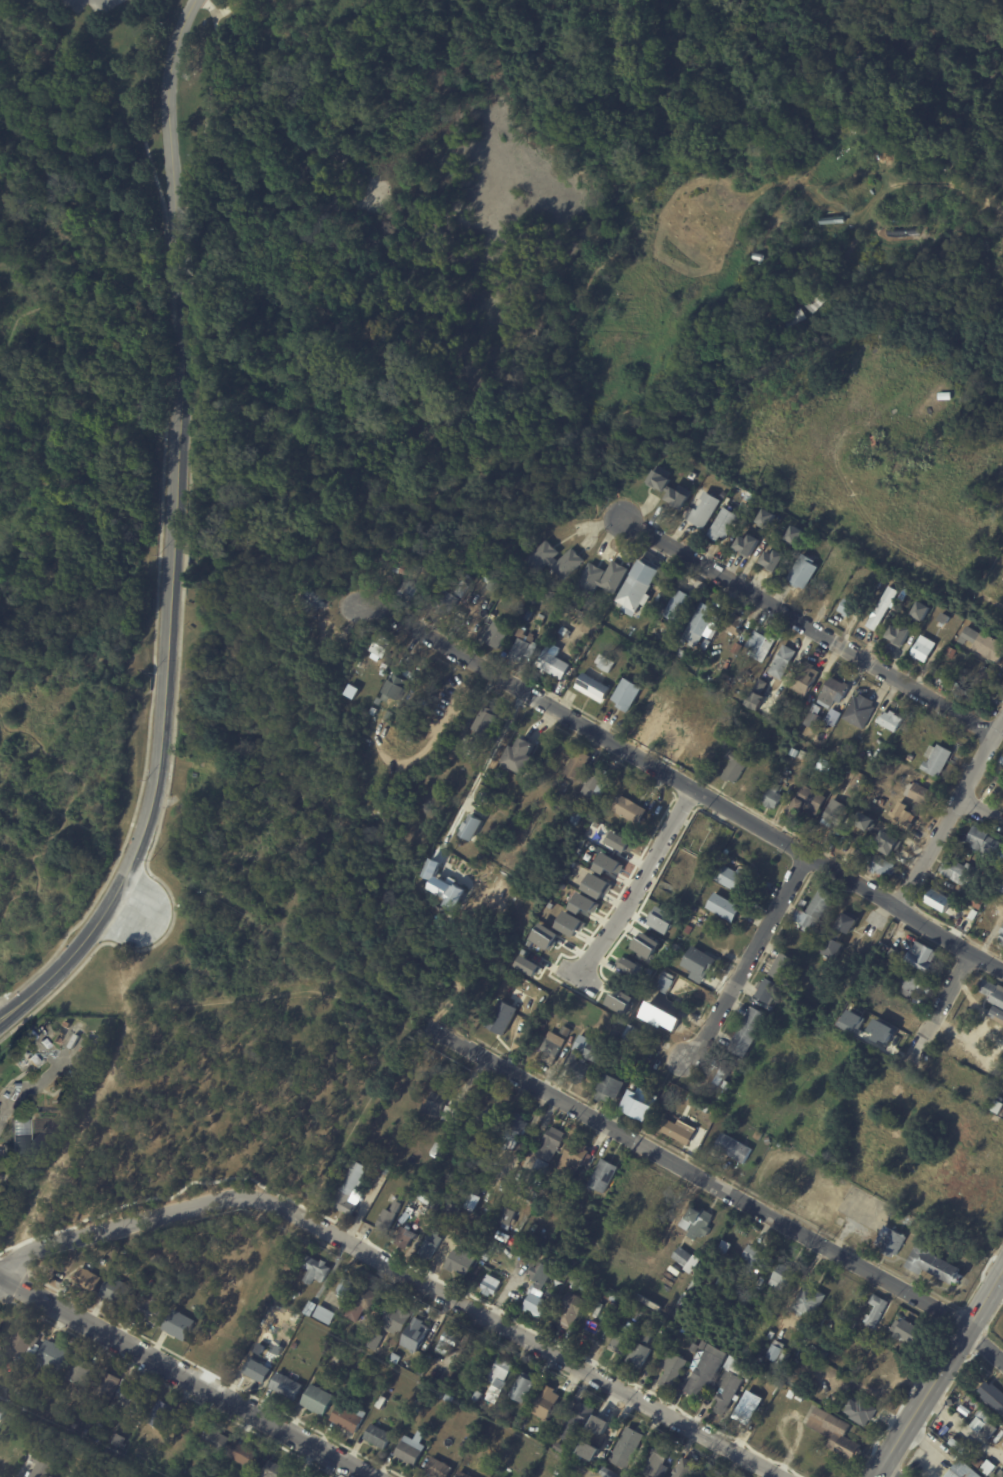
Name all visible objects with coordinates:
road: (207, 7)
road: (226, 8)
road: (314, 73)
road: (205, 112)
road: (144, 113)
road: (923, 186)
building: (758, 256)
building: (814, 301)
building: (746, 317)
building: (792, 317)
building: (688, 346)
building: (678, 383)
park: (367, 449)
road: (178, 453)
building: (667, 487)
building: (752, 497)
building: (704, 510)
building: (766, 518)
building: (722, 523)
building: (795, 534)
building: (776, 535)
building: (747, 545)
building: (433, 554)
building: (554, 559)
building: (772, 559)
building: (405, 567)
building: (802, 571)
building: (371, 572)
building: (615, 575)
building: (447, 581)
building: (495, 584)
building: (638, 587)
building: (403, 588)
building: (464, 588)
building: (310, 597)
building: (446, 603)
building: (678, 605)
building: (846, 606)
building: (883, 607)
building: (920, 611)
building: (527, 614)
building: (538, 619)
building: (456, 622)
building: (734, 623)
building: (701, 625)
road: (807, 626)
building: (565, 631)
building: (497, 634)
building: (899, 634)
building: (681, 641)
building: (760, 642)
building: (983, 643)
building: (522, 646)
building: (378, 647)
building: (736, 648)
building: (921, 651)
building: (950, 651)
building: (553, 661)
building: (782, 661)
building: (604, 662)
building: (983, 677)
building: (806, 680)
building: (759, 685)
building: (555, 687)
building: (394, 688)
building: (959, 690)
building: (832, 692)
building: (597, 694)
building: (626, 694)
building: (859, 710)
building: (372, 711)
building: (389, 716)
building: (648, 716)
building: (813, 717)
building: (832, 717)
building: (890, 721)
building: (481, 724)
building: (675, 734)
road: (433, 740)
building: (469, 747)
road: (492, 749)
building: (839, 750)
building: (795, 752)
building: (518, 757)
building: (911, 757)
building: (935, 759)
road: (981, 759)
building: (577, 765)
building: (824, 765)
building: (734, 767)
building: (778, 778)
building: (862, 778)
building: (901, 778)
road: (684, 782)
building: (596, 784)
building: (566, 786)
building: (918, 792)
building: (773, 796)
building: (806, 801)
building: (882, 802)
building: (629, 809)
road: (982, 809)
building: (577, 810)
building: (837, 814)
building: (903, 816)
building: (863, 820)
building: (470, 827)
building: (982, 839)
building: (619, 841)
building: (887, 842)
building: (863, 852)
road: (929, 853)
building: (608, 864)
building: (881, 865)
building: (955, 871)
building: (731, 878)
road: (638, 883)
building: (597, 885)
building: (1000, 885)
building: (938, 900)
building: (975, 900)
building: (584, 903)
building: (724, 907)
building: (815, 908)
road: (126, 909)
building: (660, 919)
building: (832, 921)
building: (571, 923)
building: (689, 930)
building: (545, 936)
building: (839, 936)
building: (1001, 936)
building: (1002, 943)
building: (647, 945)
building: (676, 947)
building: (885, 948)
road: (70, 957)
building: (921, 957)
road: (749, 958)
building: (697, 961)
building: (530, 966)
building: (633, 967)
building: (783, 967)
road: (577, 974)
building: (665, 982)
building: (907, 983)
building: (766, 990)
building: (993, 991)
building: (621, 1002)
road: (941, 1004)
road: (9, 1006)
building: (996, 1013)
road: (11, 1015)
building: (658, 1015)
building: (500, 1017)
building: (567, 1030)
building: (747, 1032)
building: (613, 1035)
building: (635, 1035)
road: (46, 1048)
building: (553, 1048)
building: (590, 1049)
building: (616, 1056)
building: (32, 1060)
building: (624, 1060)
building: (578, 1072)
building: (718, 1075)
road: (39, 1081)
building: (14, 1085)
building: (608, 1088)
building: (695, 1091)
building: (434, 1103)
building: (639, 1104)
building: (996, 1106)
building: (450, 1113)
building: (30, 1114)
building: (489, 1119)
park: (874, 1121)
building: (676, 1130)
building: (753, 1132)
building: (514, 1133)
building: (18, 1137)
building: (768, 1140)
building: (778, 1143)
building: (549, 1146)
building: (733, 1148)
building: (436, 1149)
building: (573, 1159)
building: (541, 1165)
building: (410, 1166)
building: (601, 1177)
road: (699, 1177)
building: (482, 1178)
parking lot: (2, 1189)
building: (348, 1189)
building: (425, 1198)
building: (473, 1201)
building: (449, 1213)
building: (389, 1217)
building: (507, 1217)
building: (470, 1222)
building: (699, 1223)
building: (406, 1237)
building: (890, 1241)
building: (430, 1244)
building: (549, 1248)
building: (485, 1257)
building: (682, 1257)
building: (105, 1261)
building: (755, 1261)
building: (460, 1262)
building: (930, 1262)
building: (557, 1266)
building: (314, 1270)
road: (403, 1271)
building: (142, 1274)
building: (783, 1274)
park: (224, 1275)
road: (0, 1277)
building: (90, 1278)
building: (574, 1281)
building: (760, 1282)
building: (490, 1286)
building: (584, 1286)
building: (346, 1287)
building: (283, 1290)
building: (538, 1290)
building: (119, 1291)
building: (750, 1291)
building: (610, 1297)
building: (283, 1299)
building: (807, 1302)
building: (364, 1305)
building: (310, 1309)
building: (570, 1310)
building: (874, 1311)
building: (152, 1312)
building: (325, 1314)
building: (641, 1316)
building: (394, 1320)
building: (269, 1321)
building: (181, 1324)
building: (851, 1324)
building: (747, 1332)
building: (907, 1333)
building: (414, 1335)
building: (771, 1335)
building: (27, 1338)
building: (373, 1341)
building: (620, 1342)
road: (985, 1342)
building: (447, 1343)
building: (295, 1345)
building: (641, 1347)
building: (693, 1348)
building: (777, 1354)
building: (55, 1355)
building: (394, 1358)
building: (363, 1365)
building: (84, 1369)
building: (670, 1369)
building: (705, 1369)
building: (256, 1372)
building: (20, 1373)
road: (939, 1373)
building: (499, 1374)
road: (185, 1376)
building: (729, 1384)
building: (285, 1387)
building: (110, 1388)
building: (520, 1388)
building: (712, 1390)
building: (849, 1390)
building: (21, 1395)
building: (791, 1395)
building: (993, 1395)
building: (477, 1396)
building: (800, 1397)
building: (138, 1398)
building: (448, 1399)
building: (316, 1400)
building: (381, 1402)
building: (545, 1403)
building: (707, 1403)
building: (28, 1406)
building: (746, 1408)
building: (860, 1410)
building: (3, 1412)
building: (164, 1413)
building: (347, 1418)
building: (509, 1418)
building: (980, 1419)
building: (576, 1421)
building: (47, 1432)
building: (598, 1432)
building: (834, 1433)
building: (989, 1433)
building: (348, 1435)
building: (376, 1437)
building: (122, 1439)
building: (218, 1439)
building: (957, 1445)
building: (462, 1446)
building: (411, 1449)
building: (589, 1450)
building: (627, 1450)
building: (532, 1451)
building: (66, 1454)
building: (116, 1454)
building: (248, 1454)
building: (567, 1454)
building: (47, 1462)
building: (655, 1464)
building: (914, 1464)
building: (436, 1469)
building: (684, 1469)
building: (279, 1470)
building: (708, 1471)
road: (890, 1471)
building: (974, 1471)
building: (606, 1473)
building: (75, 1475)
building: (301, 1475)
building: (461, 1475)
building: (295, 1476)

